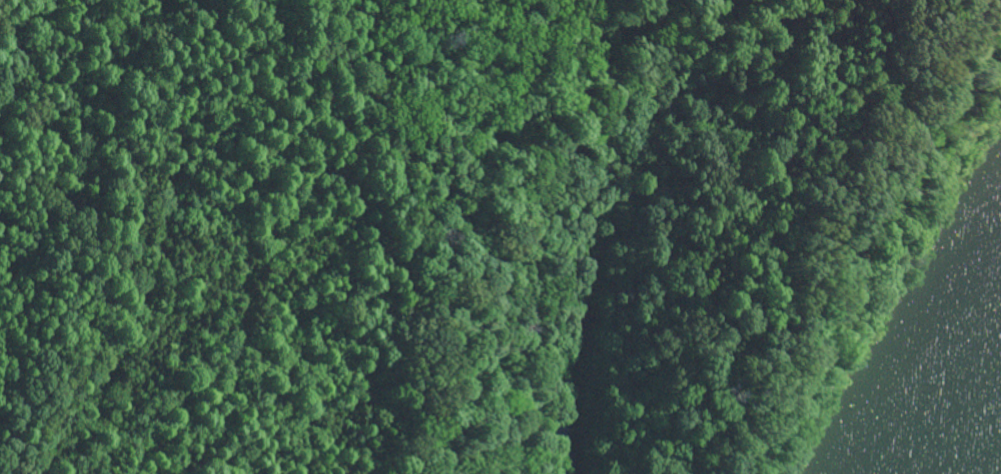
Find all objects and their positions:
park: (468, 227)

